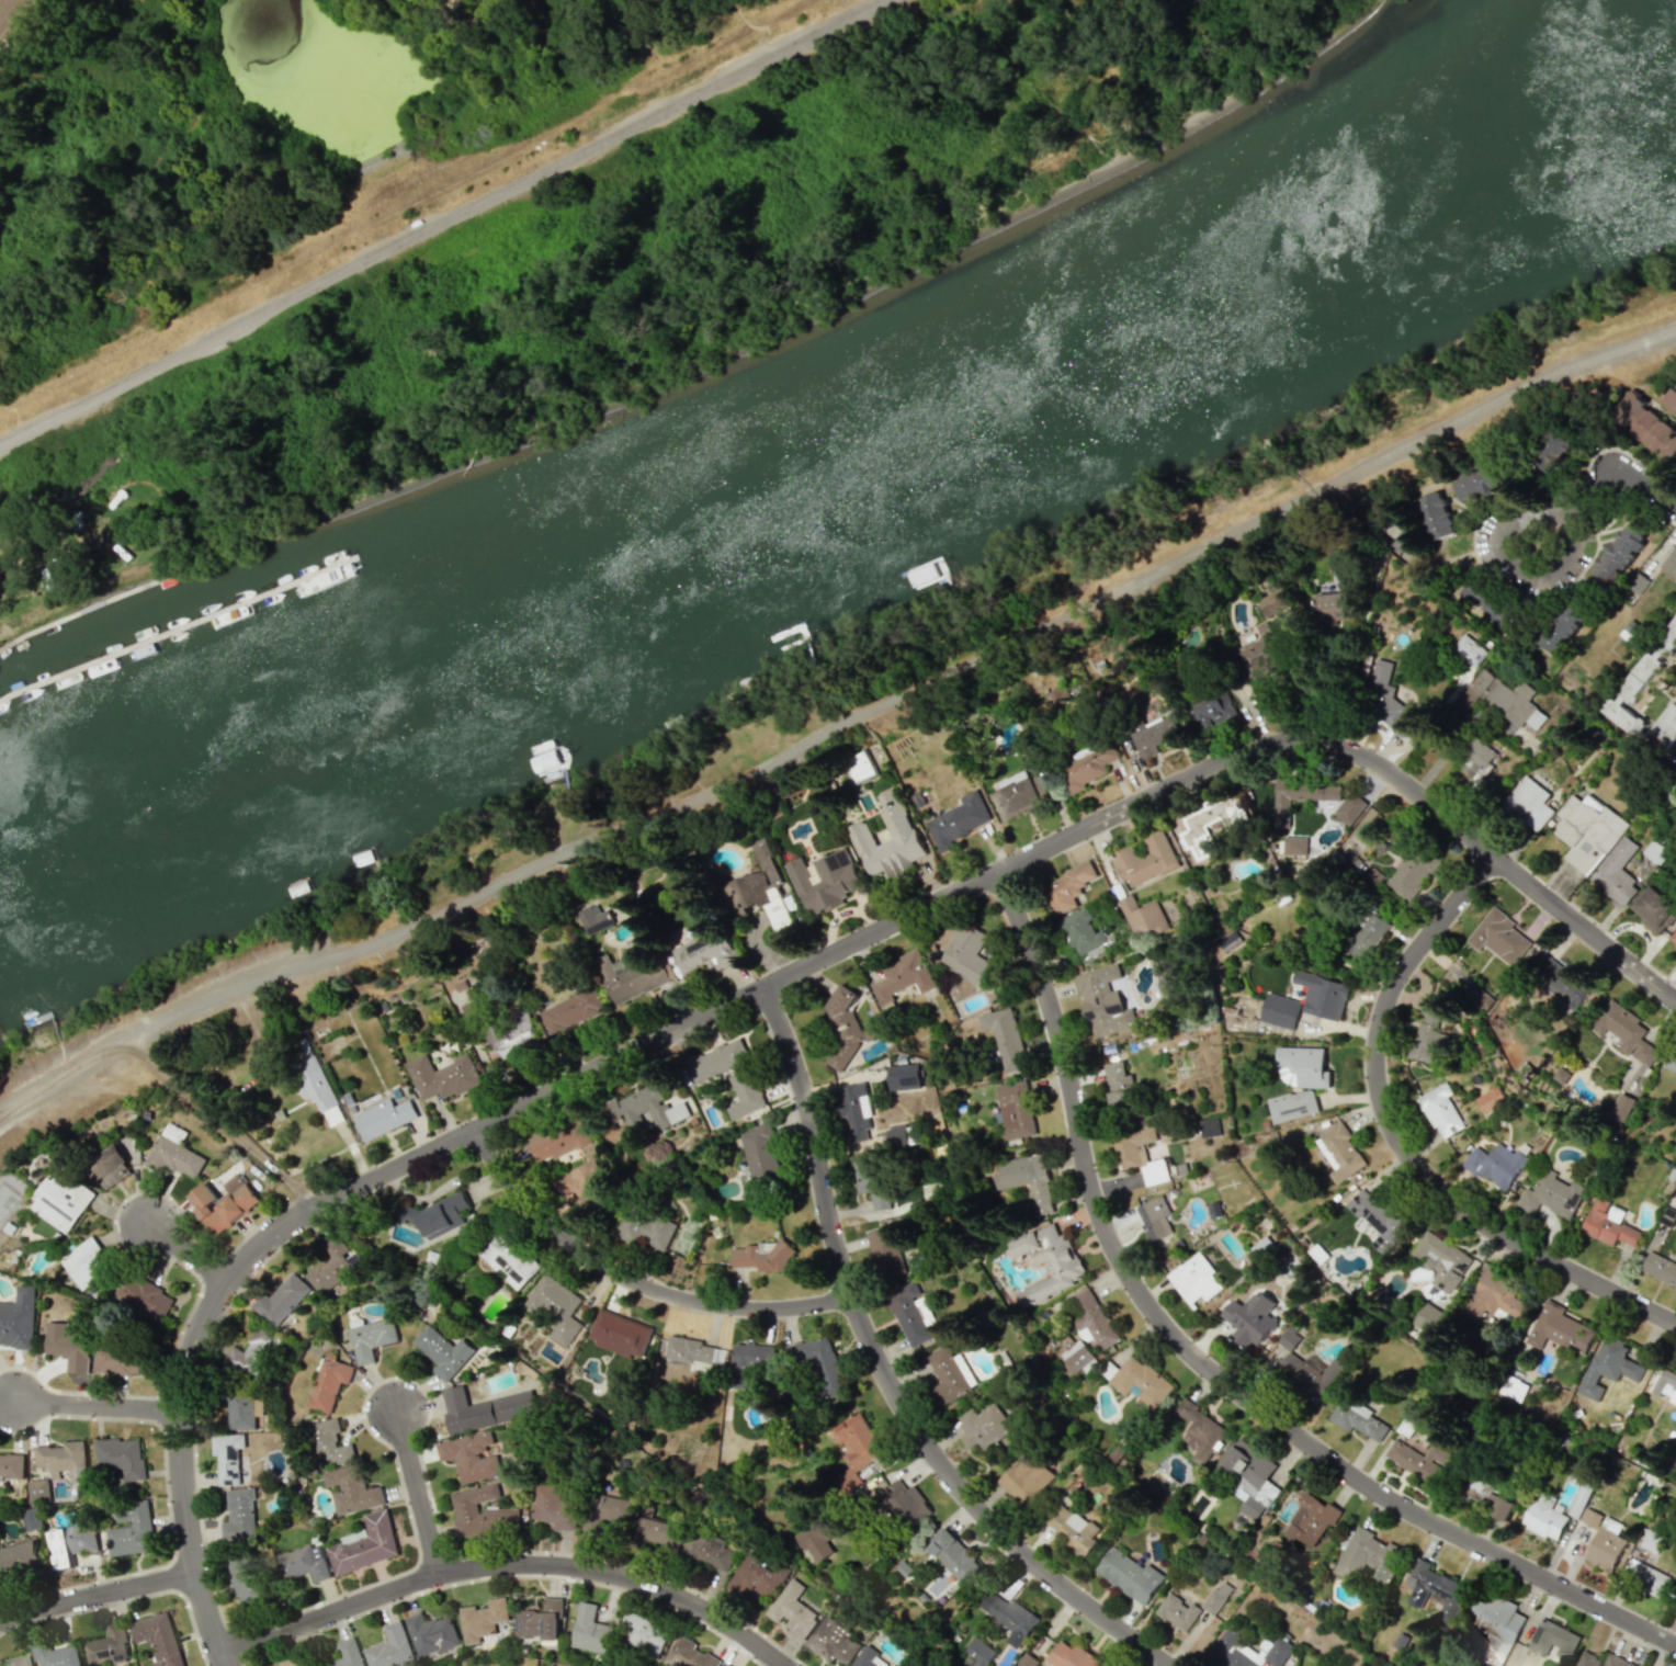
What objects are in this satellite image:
road: (440, 224)
building: (1669, 401)
building: (1646, 427)
building: (1552, 450)
road: (1634, 477)
building: (1476, 484)
road: (1592, 490)
river: (852, 494)
building: (1435, 515)
building: (1619, 554)
road: (1502, 564)
building: (1669, 565)
building: (1484, 602)
building: (1334, 609)
building: (1562, 623)
building: (1267, 633)
building: (1667, 641)
building: (1468, 650)
building: (1056, 695)
building: (1616, 699)
building: (1498, 700)
building: (1385, 701)
road: (1330, 709)
building: (1214, 711)
road: (842, 734)
building: (1154, 735)
building: (1476, 759)
building: (859, 766)
building: (1087, 768)
building: (1016, 794)
building: (1300, 796)
building: (1528, 803)
building: (956, 820)
building: (1202, 829)
building: (1586, 831)
building: (901, 832)
building: (1356, 841)
building: (1290, 854)
building: (1145, 860)
building: (1411, 872)
building: (1615, 873)
building: (823, 881)
building: (1068, 886)
building: (759, 891)
building: (1653, 910)
building: (1142, 916)
building: (594, 917)
building: (1082, 932)
building: (1368, 937)
building: (1673, 937)
building: (1499, 938)
building: (1227, 940)
building: (964, 950)
building: (706, 952)
building: (903, 976)
building: (1559, 976)
building: (628, 978)
road: (781, 981)
building: (1322, 995)
building: (1102, 1001)
building: (1481, 1001)
building: (571, 1010)
building: (1279, 1011)
building: (1430, 1029)
building: (842, 1030)
building: (509, 1032)
building: (1005, 1038)
building: (1669, 1062)
building: (1302, 1067)
building: (1561, 1075)
building: (443, 1076)
building: (904, 1076)
building: (743, 1080)
building: (1118, 1083)
building: (314, 1084)
building: (1675, 1095)
building: (1621, 1104)
building: (1293, 1106)
building: (645, 1109)
building: (854, 1109)
building: (1015, 1109)
building: (1440, 1111)
building: (384, 1118)
building: (1209, 1127)
building: (896, 1136)
building: (557, 1141)
road: (1404, 1147)
building: (175, 1153)
building: (1339, 1153)
building: (1140, 1155)
building: (760, 1160)
building: (1495, 1164)
building: (107, 1167)
building: (1026, 1179)
building: (872, 1181)
building: (585, 1183)
building: (1551, 1195)
building: (60, 1201)
building: (224, 1203)
building: (438, 1214)
building: (1154, 1217)
building: (1378, 1219)
building: (1609, 1224)
building: (644, 1227)
building: (886, 1249)
road: (189, 1253)
building: (762, 1257)
building: (507, 1260)
building: (1047, 1261)
building: (1440, 1261)
building: (86, 1262)
building: (331, 1263)
building: (1660, 1268)
road: (636, 1278)
building: (1196, 1279)
building: (143, 1296)
building: (1493, 1296)
building: (281, 1300)
building: (555, 1307)
building: (907, 1314)
building: (18, 1318)
building: (1091, 1318)
building: (1250, 1319)
building: (1425, 1323)
building: (1560, 1329)
building: (620, 1334)
building: (371, 1338)
building: (1288, 1339)
building: (69, 1345)
building: (442, 1352)
building: (1074, 1353)
building: (252, 1355)
building: (752, 1357)
building: (1621, 1358)
building: (121, 1362)
building: (819, 1363)
road: (1205, 1365)
building: (1310, 1373)
building: (947, 1375)
road: (891, 1376)
building: (328, 1381)
building: (1141, 1381)
building: (1666, 1385)
building: (1511, 1389)
road: (97, 1404)
building: (464, 1410)
building: (240, 1412)
building: (1358, 1419)
building: (983, 1427)
building: (1200, 1431)
building: (329, 1441)
building: (854, 1451)
building: (120, 1457)
building: (227, 1457)
building: (472, 1457)
building: (63, 1460)
building: (1420, 1460)
building: (11, 1465)
building: (1252, 1477)
building: (1026, 1478)
building: (351, 1489)
building: (37, 1491)
road: (419, 1493)
building: (1490, 1497)
building: (1577, 1499)
building: (906, 1504)
building: (553, 1507)
building: (611, 1509)
building: (480, 1512)
building: (239, 1515)
building: (1586, 1516)
building: (1542, 1517)
building: (31, 1519)
building: (1310, 1520)
building: (654, 1529)
building: (1071, 1529)
building: (129, 1530)
building: (354, 1535)
building: (1651, 1541)
building: (71, 1543)
building: (366, 1545)
building: (1604, 1549)
building: (707, 1551)
building: (953, 1555)
building: (1368, 1556)
building: (22, 1557)
building: (305, 1563)
road: (509, 1564)
building: (756, 1575)
building: (1129, 1575)
building: (1645, 1577)
building: (246, 1579)
building: (1435, 1590)
road: (97, 1595)
building: (1216, 1597)
building: (791, 1610)
building: (1178, 1612)
building: (483, 1619)
building: (1011, 1619)
building: (540, 1620)
building: (1493, 1628)
building: (590, 1630)
road: (1671, 1632)
building: (431, 1633)
building: (642, 1636)
building: (158, 1639)
building: (833, 1640)
building: (1553, 1640)
building: (107, 1647)
building: (389, 1647)
building: (1248, 1651)
building: (977, 1653)
building: (347, 1654)
building: (688, 1654)
building: (58, 1656)
building: (1072, 1656)
building: (867, 1657)
building: (18, 1661)
building: (1027, 1661)
building: (1601, 1661)
building: (293, 1663)
building: (723, 1665)

